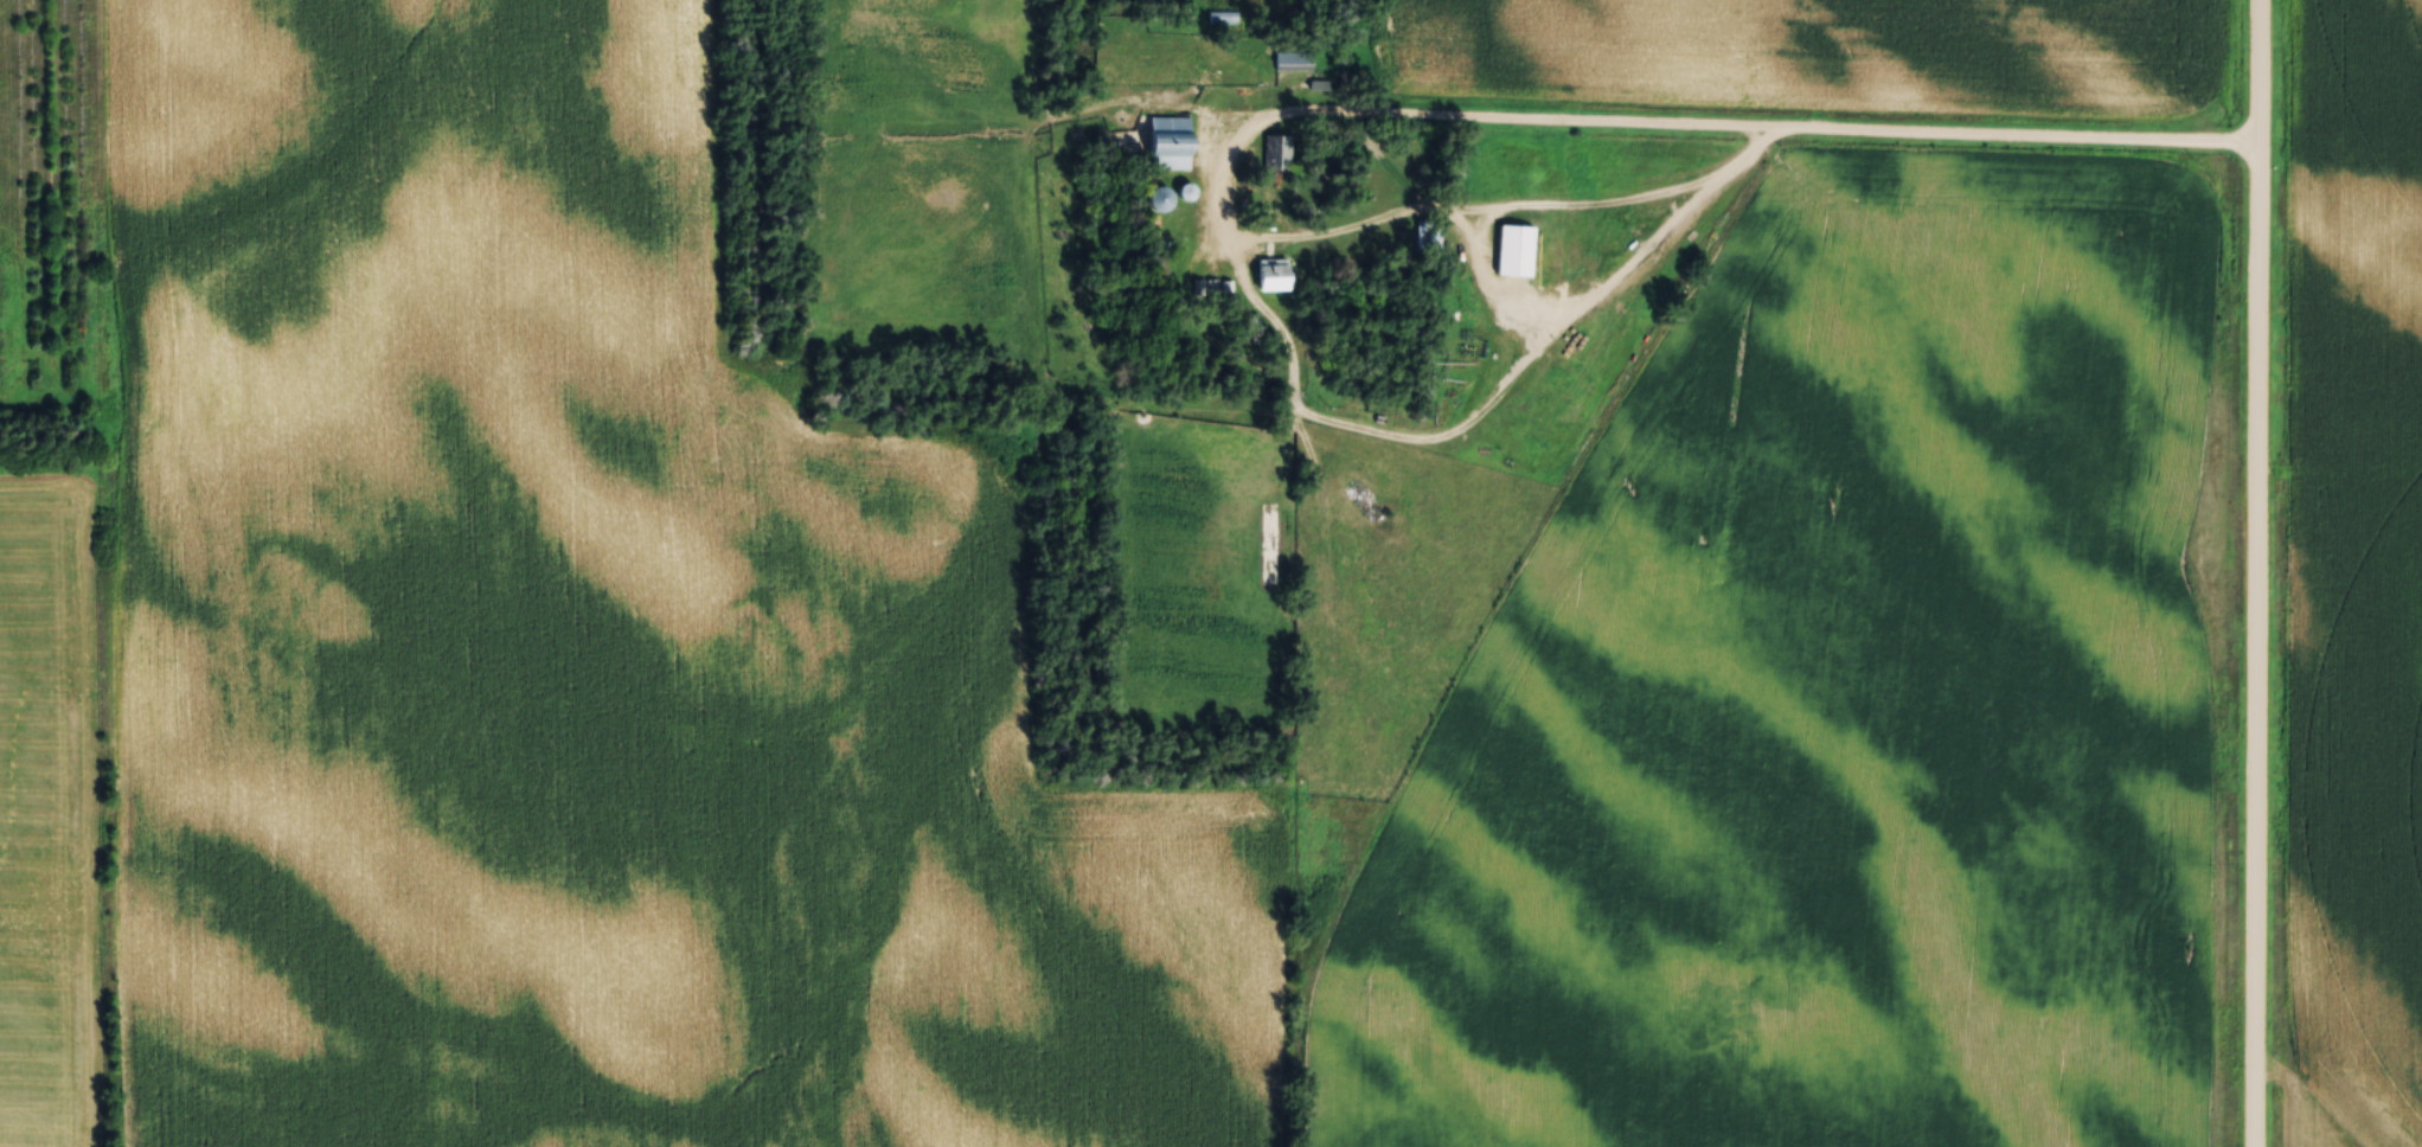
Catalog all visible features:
building: (1290, 60)
road: (1721, 128)
building: (1153, 199)
building: (1429, 236)
building: (1511, 250)
building: (1266, 275)
building: (1204, 287)
road: (2257, 573)

